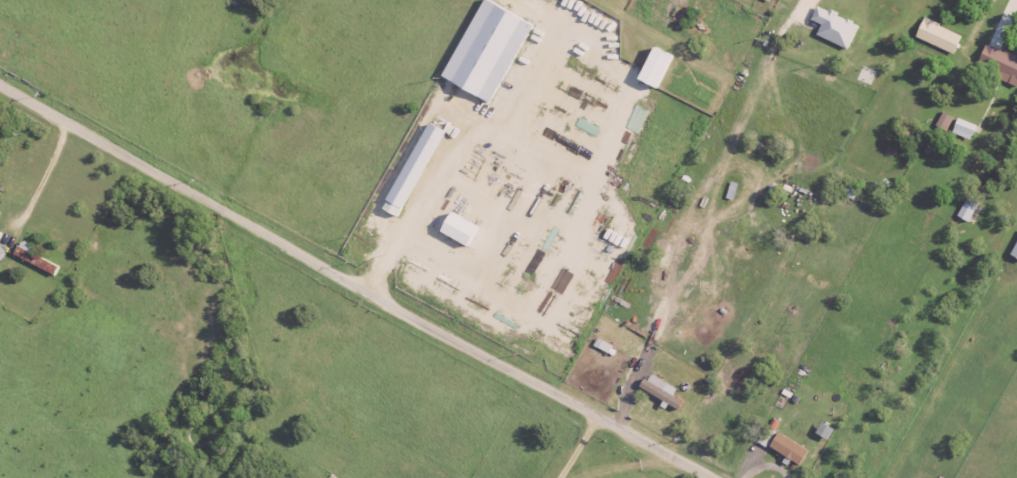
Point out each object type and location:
building: (833, 27)
building: (937, 36)
building: (486, 50)
building: (1000, 62)
building: (654, 67)
building: (942, 121)
building: (963, 129)
building: (414, 166)
building: (730, 191)
building: (849, 191)
building: (966, 209)
building: (458, 229)
building: (1014, 251)
building: (1, 254)
building: (33, 257)
road: (358, 281)
building: (602, 346)
building: (660, 391)
building: (823, 431)
road: (572, 443)
building: (787, 448)

